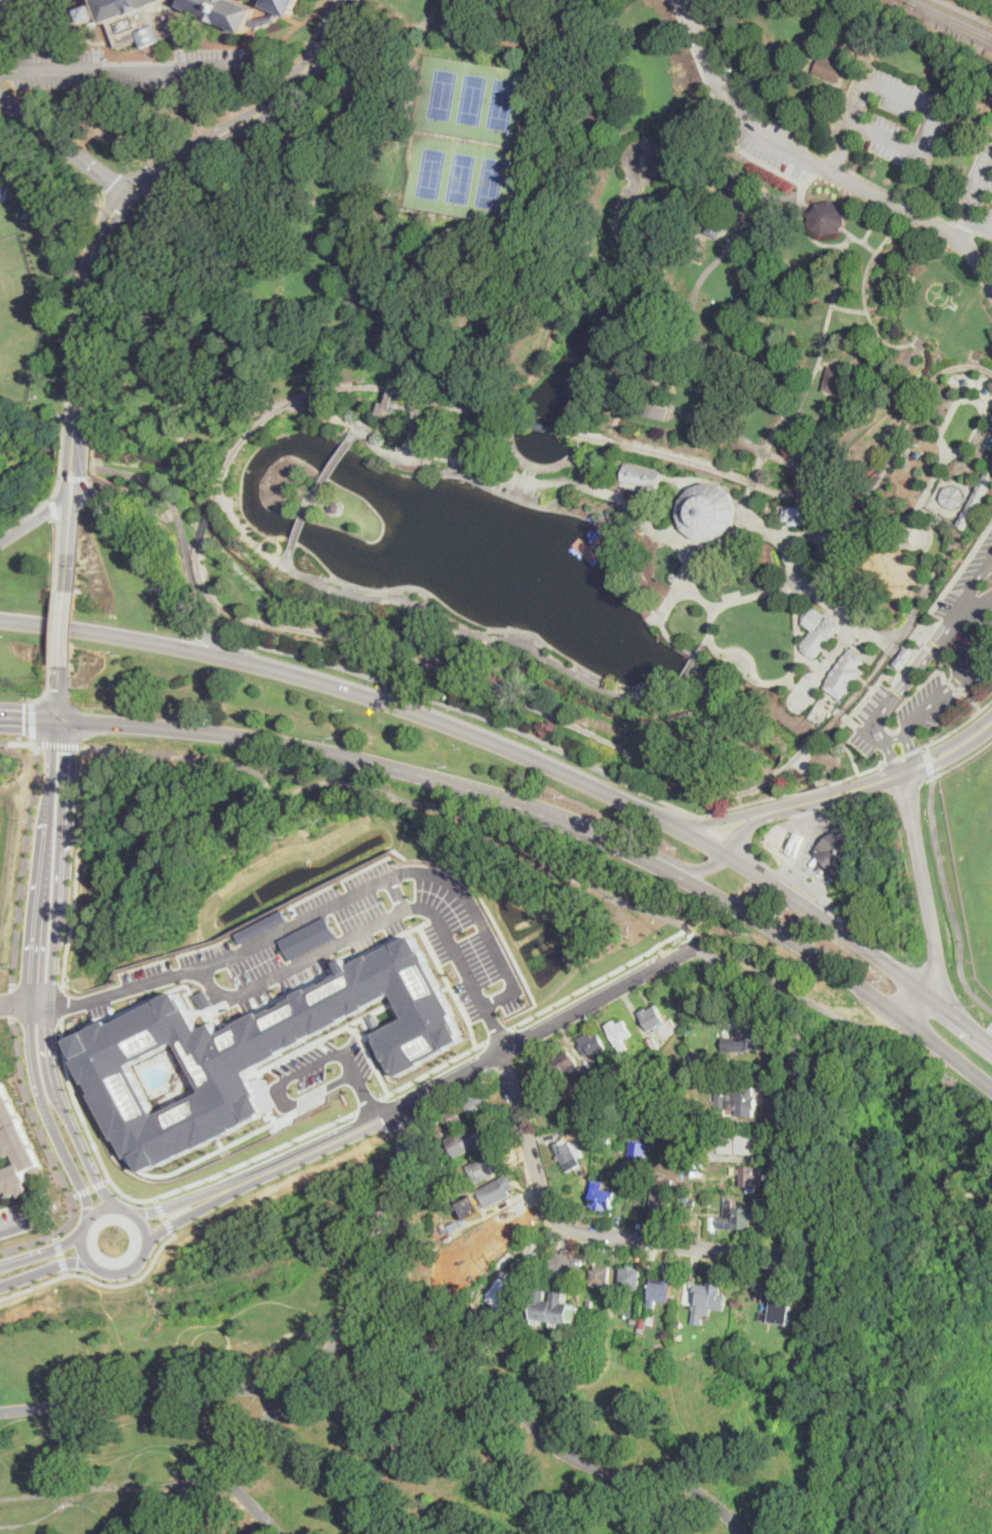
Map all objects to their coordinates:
building: (283, 6)
road: (4, 9)
road: (261, 9)
building: (225, 11)
railway: (959, 14)
railway: (949, 18)
building: (266, 19)
building: (139, 20)
railway: (943, 25)
road: (43, 44)
road: (254, 45)
road: (124, 67)
road: (370, 67)
building: (830, 68)
parking lot: (135, 69)
road: (909, 97)
road: (716, 110)
parking lot: (893, 115)
road: (254, 117)
park: (464, 137)
road: (64, 145)
road: (214, 153)
road: (72, 164)
road: (813, 164)
traffic signals: (152, 173)
road: (989, 177)
road: (137, 180)
traffic signals: (112, 183)
building: (734, 190)
parking lot: (979, 193)
road: (900, 195)
road: (974, 201)
road: (807, 203)
traffic signals: (115, 209)
building: (827, 219)
road: (979, 223)
road: (965, 225)
road: (806, 227)
building: (715, 230)
road: (983, 234)
road: (855, 236)
road: (979, 249)
road: (889, 259)
road: (77, 297)
road: (846, 308)
road: (82, 311)
road: (830, 311)
road: (659, 336)
road: (923, 345)
park: (589, 376)
building: (835, 379)
road: (797, 407)
building: (651, 409)
road: (66, 412)
road: (851, 421)
road: (348, 423)
road: (355, 431)
building: (982, 436)
road: (773, 437)
railway: (606, 440)
building: (989, 441)
road: (766, 450)
road: (62, 454)
road: (73, 455)
road: (90, 456)
road: (335, 462)
road: (539, 466)
road: (582, 470)
road: (532, 473)
building: (640, 474)
building: (864, 476)
railway: (991, 476)
road: (935, 477)
road: (77, 478)
road: (71, 481)
road: (753, 483)
road: (157, 488)
road: (727, 489)
road: (312, 497)
building: (953, 497)
railway: (976, 503)
building: (335, 505)
road: (55, 508)
road: (38, 509)
road: (679, 511)
building: (708, 511)
building: (798, 515)
railway: (208, 517)
road: (36, 520)
road: (957, 524)
building: (621, 525)
road: (299, 526)
road: (786, 529)
road: (807, 530)
road: (904, 538)
road: (68, 540)
pier: (589, 545)
road: (681, 548)
road: (819, 551)
road: (58, 553)
road: (288, 556)
road: (149, 558)
theme park: (632, 573)
road: (158, 585)
road: (690, 585)
road: (975, 608)
road: (664, 622)
road: (55, 626)
road: (64, 627)
building: (819, 630)
road: (226, 634)
road: (131, 637)
road: (243, 641)
road: (925, 645)
road: (903, 647)
road: (546, 655)
building: (904, 656)
parking lot: (939, 661)
road: (324, 662)
road: (922, 665)
road: (943, 666)
road: (824, 667)
dam: (684, 669)
railway: (878, 670)
building: (845, 674)
road: (789, 675)
road: (931, 676)
railway: (470, 681)
road: (952, 684)
road: (48, 690)
road: (59, 691)
road: (414, 692)
traffic signals: (59, 697)
building: (656, 697)
road: (971, 697)
road: (932, 702)
traffic signals: (25, 717)
road: (29, 717)
road: (33, 719)
road: (960, 726)
road: (242, 735)
road: (897, 737)
road: (19, 742)
road: (61, 744)
road: (500, 745)
road: (950, 748)
traffic signals: (66, 752)
road: (568, 754)
road: (905, 754)
road: (182, 755)
road: (929, 759)
road: (957, 763)
railway: (789, 766)
road: (64, 771)
road: (319, 782)
road: (792, 793)
road: (837, 793)
road: (540, 813)
road: (705, 822)
road: (745, 831)
road: (810, 840)
building: (797, 843)
building: (838, 849)
gas station: (838, 849)
road: (545, 860)
road: (22, 861)
road: (78, 866)
road: (693, 868)
road: (924, 882)
road: (810, 887)
road: (400, 893)
road: (949, 897)
road: (317, 910)
road: (36, 921)
road: (379, 926)
road: (782, 931)
road: (862, 945)
road: (573, 992)
road: (13, 1002)
road: (913, 1002)
road: (64, 1003)
road: (49, 1006)
building: (653, 1019)
road: (859, 1022)
road: (557, 1024)
road: (499, 1031)
building: (619, 1033)
building: (748, 1038)
building: (652, 1044)
building: (593, 1046)
building: (255, 1048)
road: (947, 1049)
road: (320, 1060)
building: (565, 1062)
road: (436, 1068)
building: (680, 1072)
building: (695, 1079)
building: (542, 1083)
building: (641, 1087)
building: (591, 1090)
road: (309, 1096)
road: (366, 1096)
building: (737, 1100)
road: (371, 1104)
building: (479, 1104)
building: (625, 1107)
building: (453, 1117)
building: (697, 1117)
building: (673, 1121)
road: (88, 1127)
building: (607, 1138)
building: (469, 1139)
building: (735, 1143)
building: (15, 1146)
road: (312, 1151)
building: (638, 1152)
road: (258, 1155)
building: (570, 1157)
road: (54, 1158)
building: (444, 1168)
road: (75, 1169)
building: (483, 1169)
building: (694, 1170)
building: (751, 1177)
road: (110, 1178)
building: (715, 1182)
road: (93, 1187)
building: (496, 1191)
road: (107, 1193)
road: (75, 1195)
building: (602, 1196)
building: (685, 1197)
building: (633, 1201)
building: (662, 1201)
road: (169, 1207)
road: (123, 1209)
road: (165, 1215)
building: (736, 1217)
road: (178, 1220)
building: (441, 1221)
building: (513, 1221)
building: (713, 1222)
building: (454, 1226)
road: (56, 1235)
road: (82, 1235)
road: (66, 1243)
road: (144, 1249)
road: (563, 1249)
road: (60, 1253)
road: (759, 1254)
road: (24, 1258)
road: (44, 1268)
road: (65, 1272)
building: (599, 1275)
park: (901, 1275)
building: (630, 1278)
road: (99, 1281)
building: (660, 1290)
building: (506, 1292)
building: (709, 1295)
building: (779, 1308)
building: (552, 1311)
building: (634, 1319)
building: (642, 1326)
road: (336, 1344)
road: (152, 1396)
road: (543, 1435)
road: (249, 1502)

